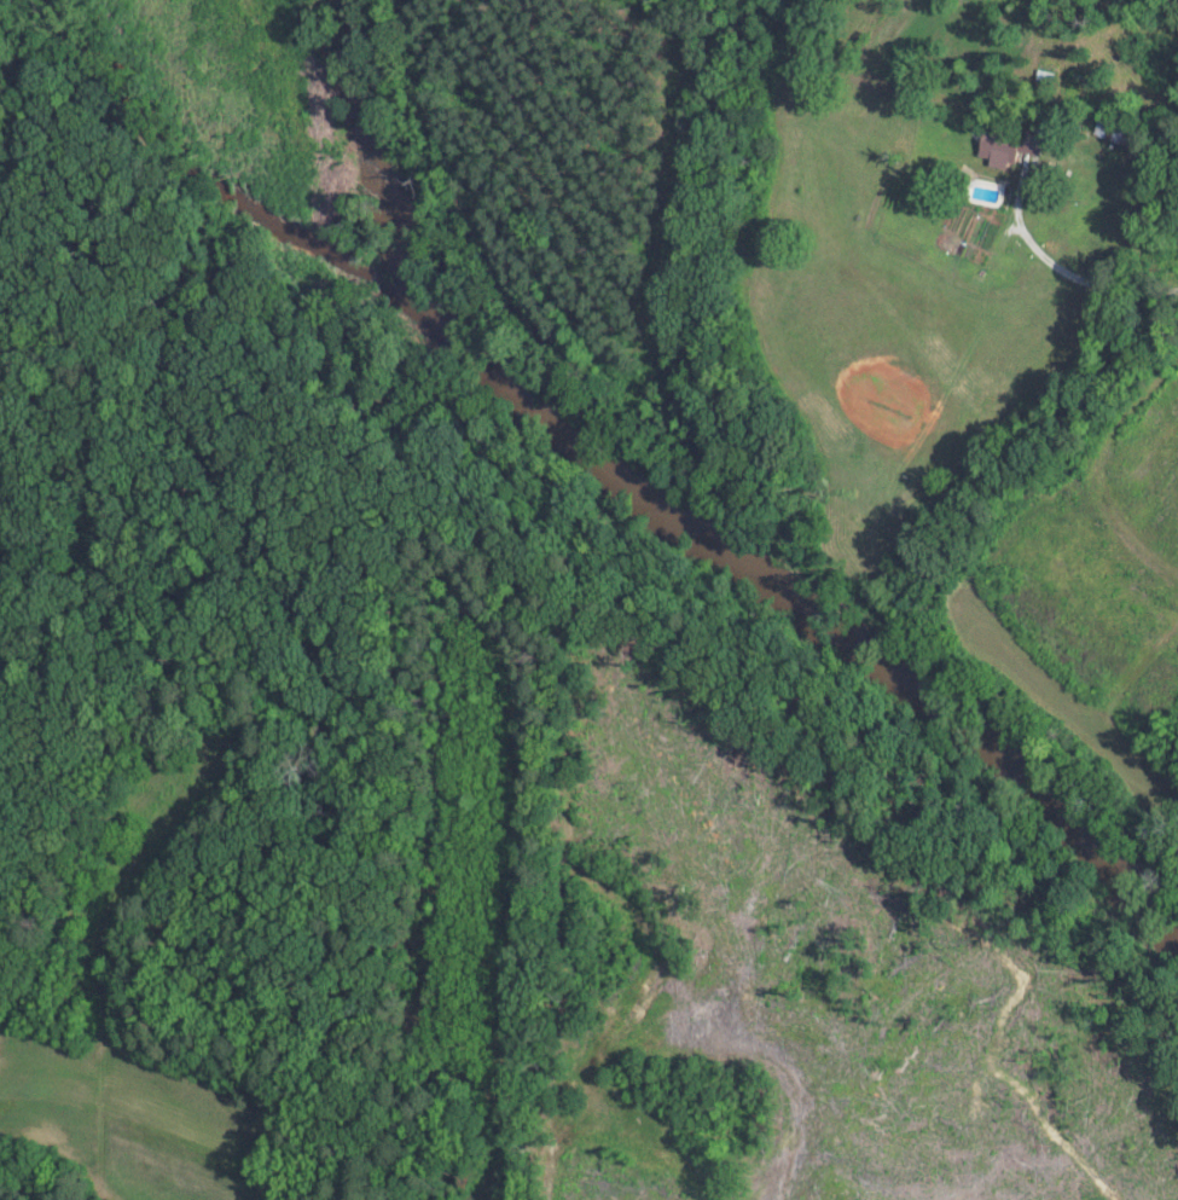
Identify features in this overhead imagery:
building: (1006, 137)
road: (1085, 272)

